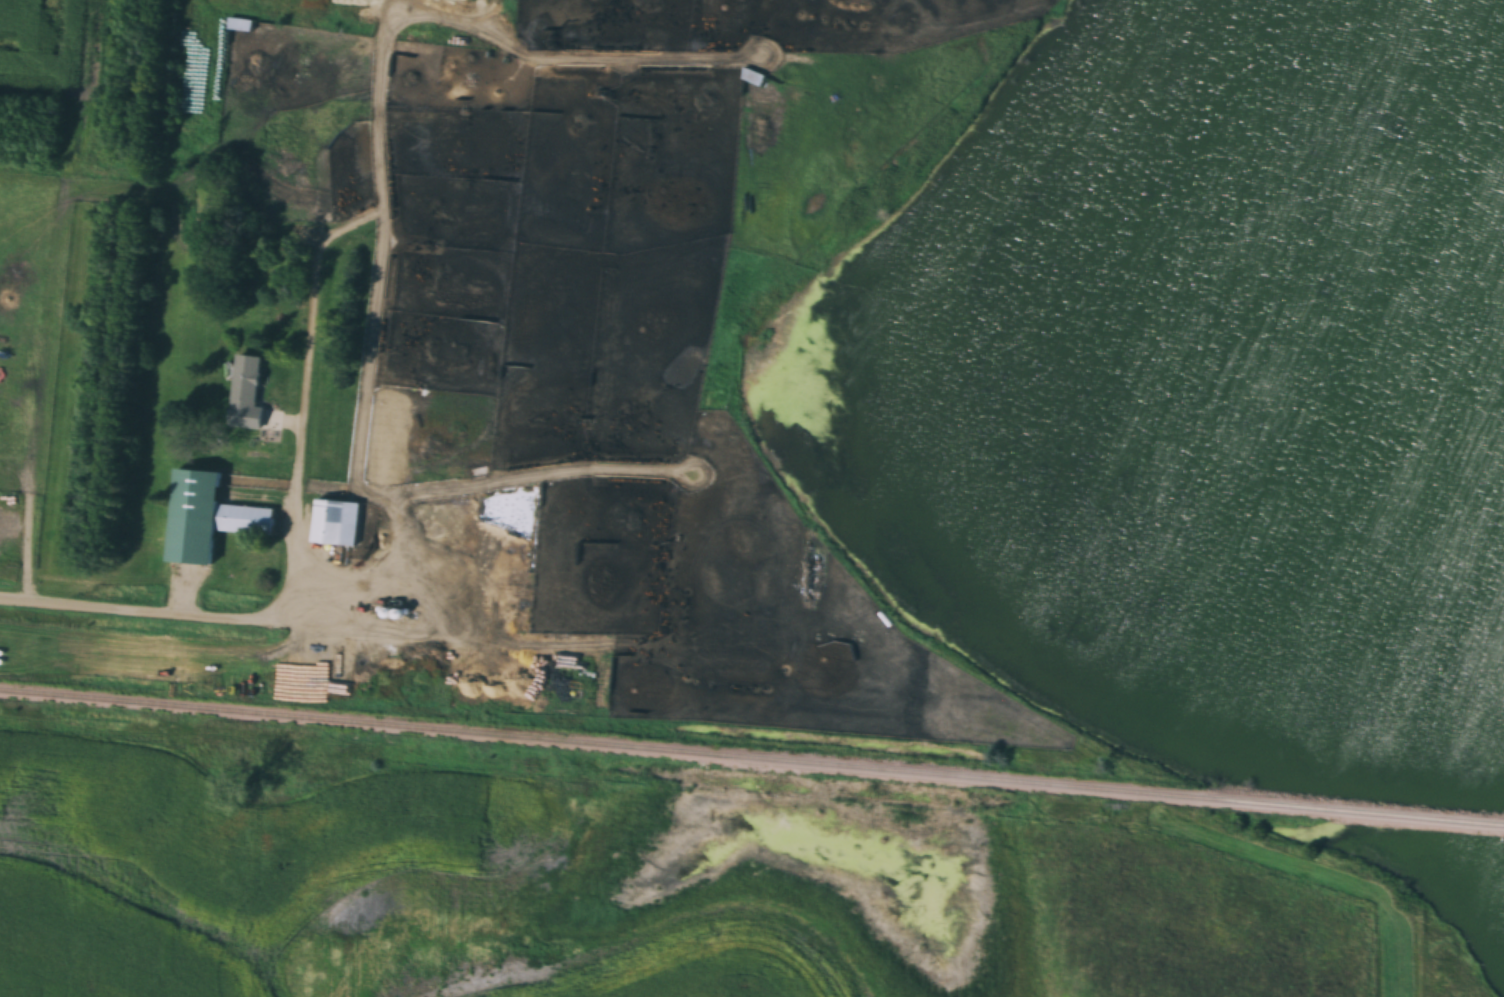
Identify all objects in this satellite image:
building: (240, 24)
building: (753, 77)
building: (246, 393)
building: (207, 517)
building: (336, 522)
road: (136, 610)
building: (394, 614)
railway: (751, 758)

